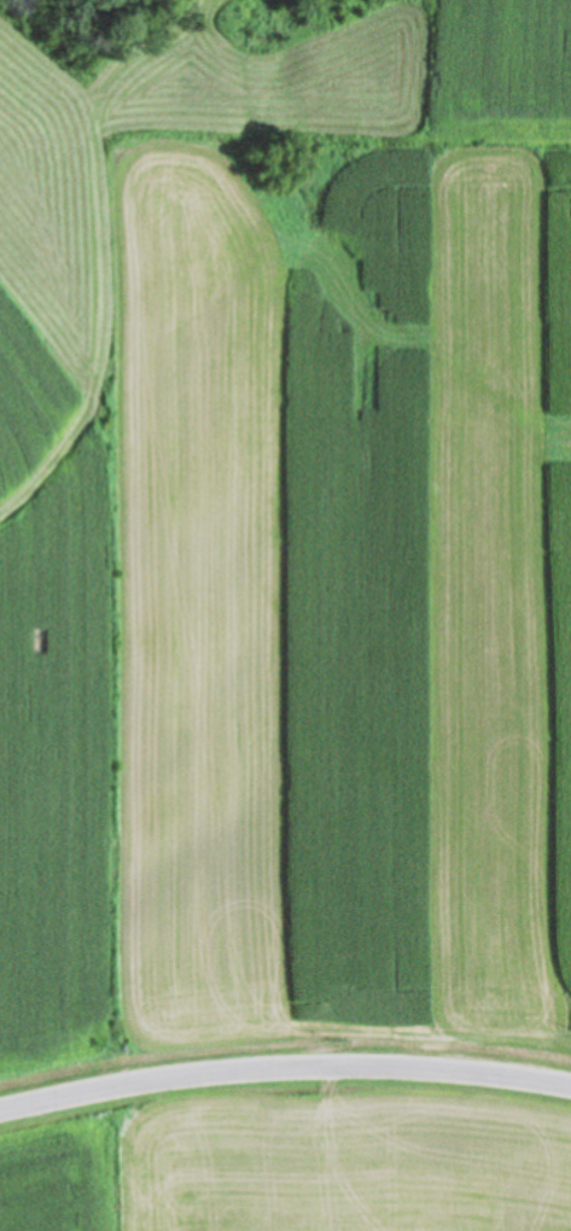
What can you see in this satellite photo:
road: (285, 1046)

